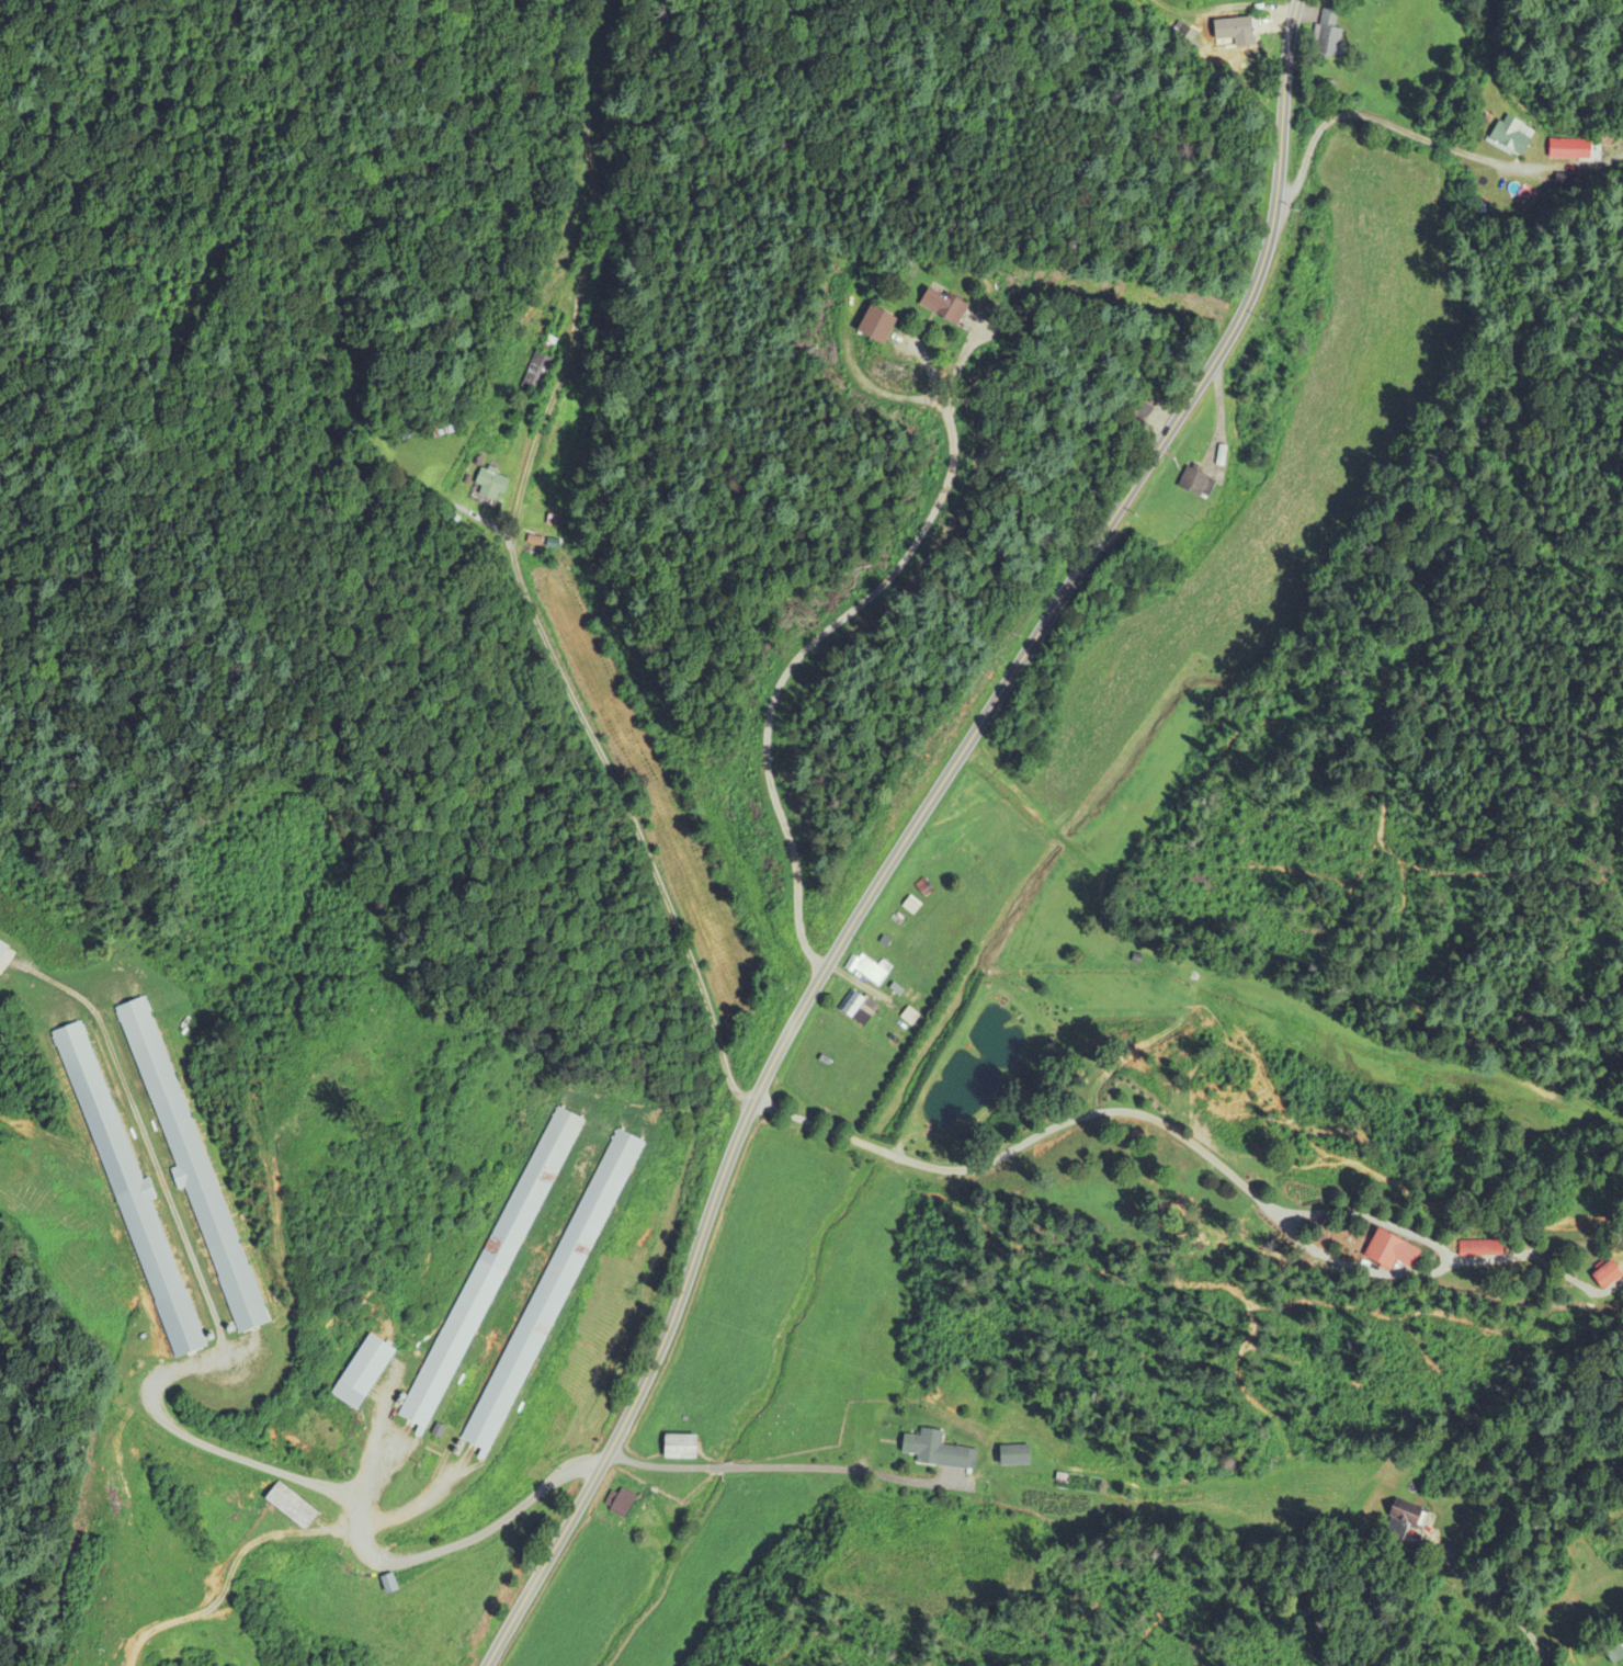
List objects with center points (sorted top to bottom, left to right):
building: (1242, 31)
building: (1330, 34)
road: (1389, 120)
building: (1516, 141)
building: (1570, 149)
road: (589, 177)
building: (945, 306)
building: (878, 326)
building: (537, 374)
building: (1143, 415)
road: (1219, 416)
building: (1199, 484)
building: (491, 486)
road: (815, 641)
road: (593, 733)
road: (908, 830)
building: (968, 853)
building: (873, 972)
building: (859, 1009)
road: (1075, 1119)
building: (188, 1155)
building: (135, 1206)
building: (1482, 1248)
building: (1394, 1253)
building: (491, 1270)
building: (1610, 1277)
building: (554, 1292)
building: (364, 1374)
building: (681, 1449)
building: (940, 1452)
building: (1014, 1457)
road: (658, 1466)
road: (718, 1466)
road: (829, 1467)
road: (347, 1497)
building: (620, 1504)
building: (293, 1508)
building: (1407, 1521)
road: (1496, 1603)

